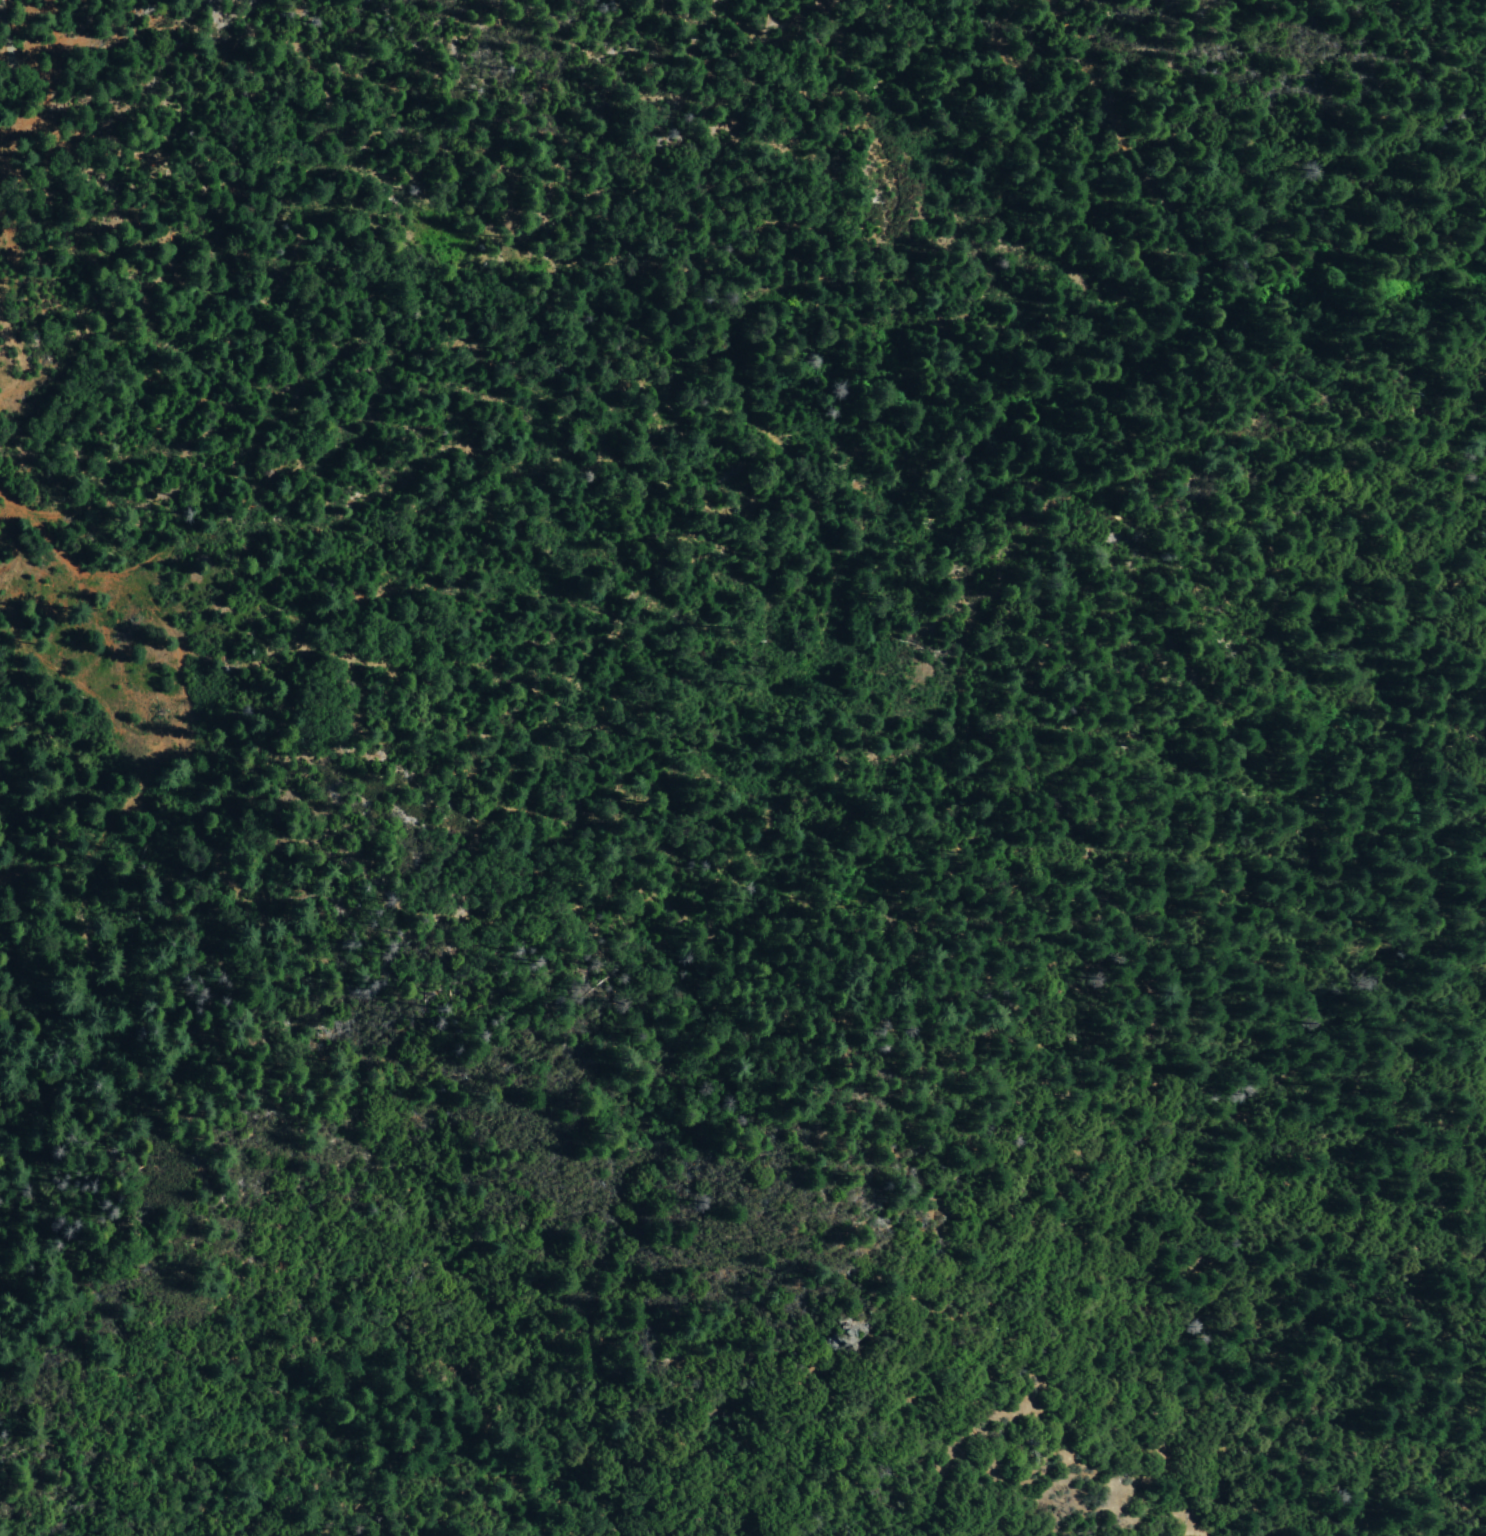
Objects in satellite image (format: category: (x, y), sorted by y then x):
road: (7, 49)
road: (149, 700)
park: (863, 1239)

